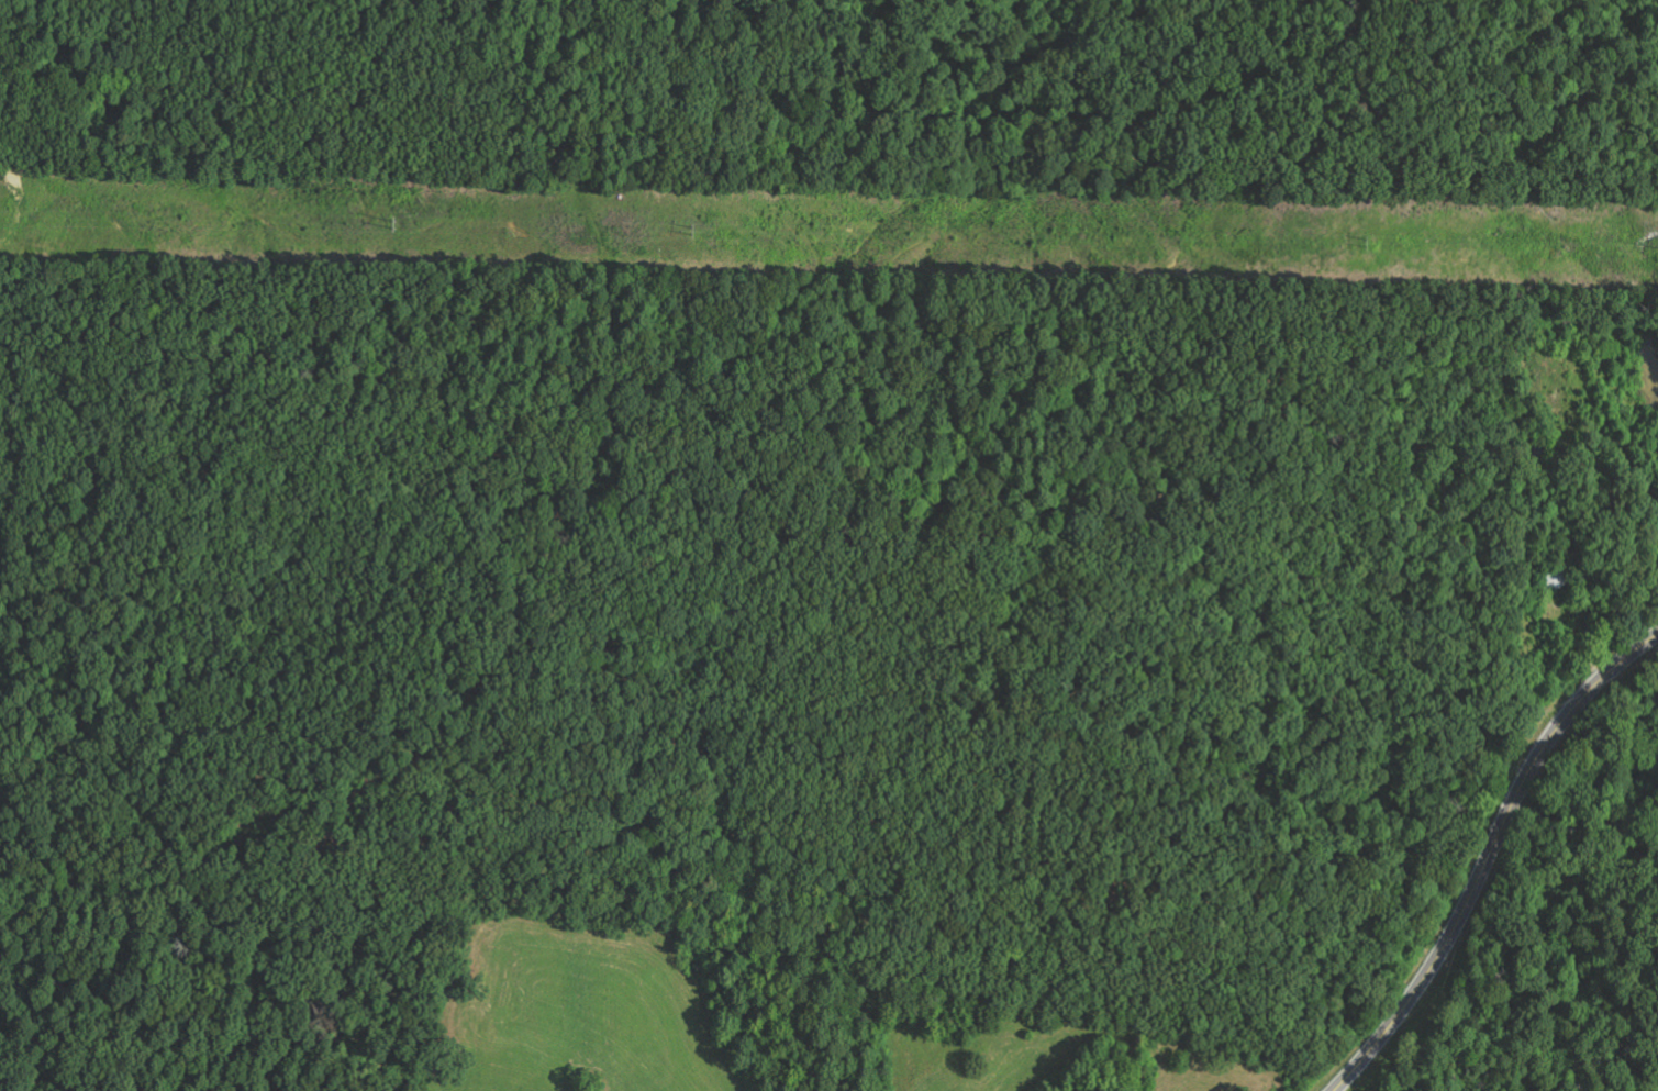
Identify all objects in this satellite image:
road: (1489, 857)

